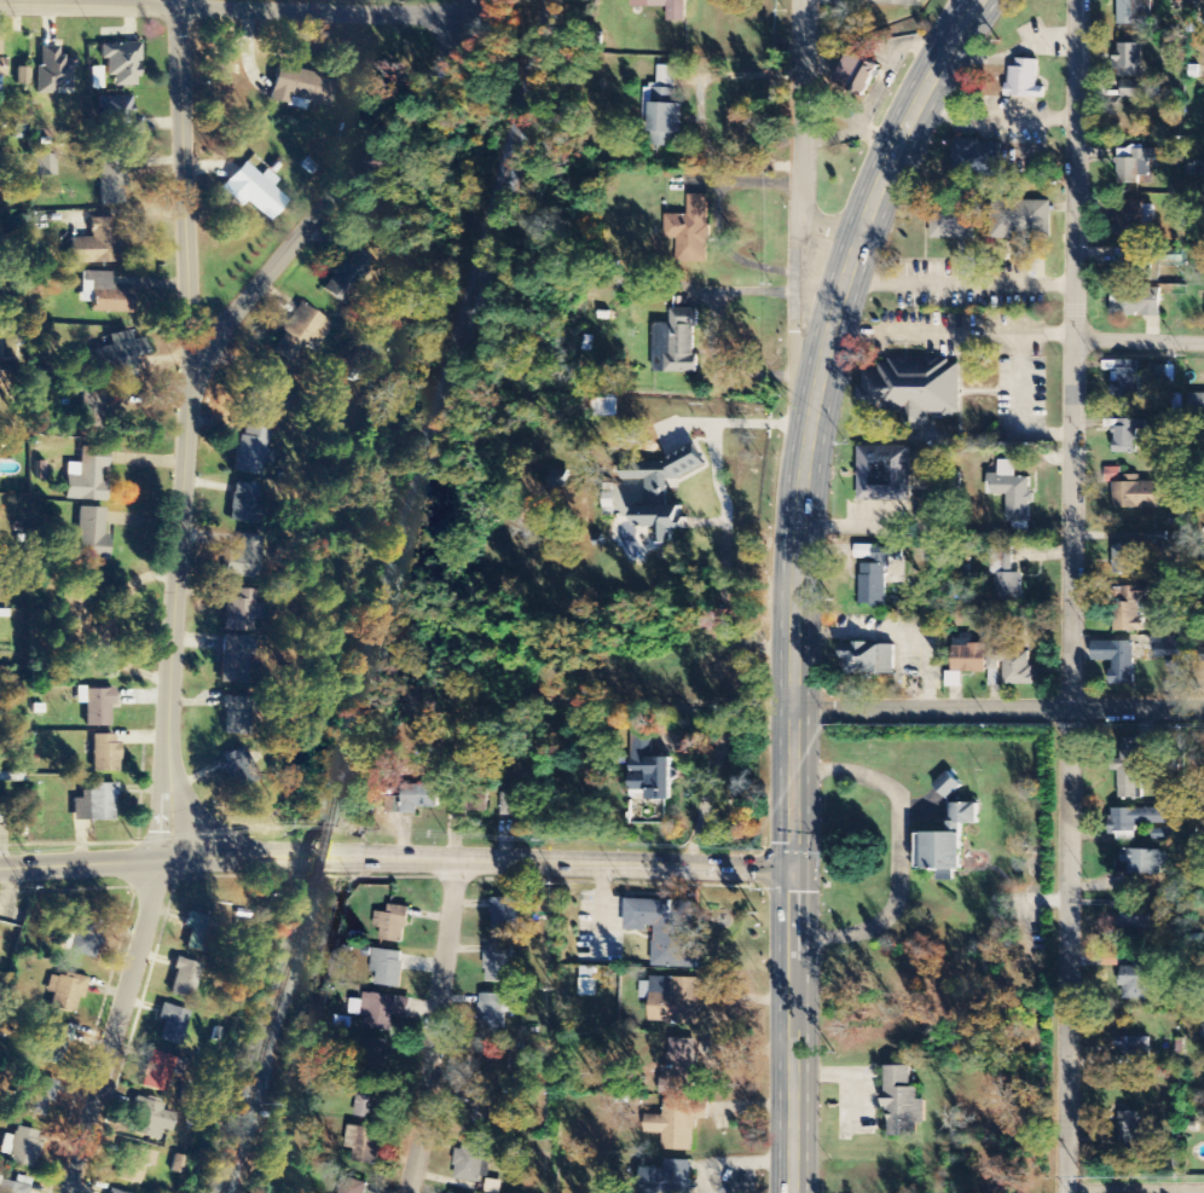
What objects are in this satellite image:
park: (366, 1)
road: (174, 2)
road: (243, 6)
building: (1134, 12)
building: (677, 16)
building: (1129, 62)
building: (121, 63)
building: (1, 68)
building: (52, 71)
building: (858, 75)
building: (1024, 80)
building: (297, 85)
building: (1140, 91)
building: (118, 116)
building: (664, 123)
building: (977, 157)
building: (1134, 164)
building: (42, 166)
building: (111, 179)
road: (185, 190)
building: (256, 192)
road: (801, 192)
building: (1129, 219)
building: (1020, 220)
building: (953, 221)
building: (695, 231)
building: (97, 243)
building: (349, 277)
building: (108, 295)
building: (1135, 302)
building: (300, 336)
road: (1139, 342)
building: (676, 343)
building: (117, 355)
building: (285, 364)
road: (190, 375)
building: (1163, 376)
building: (1130, 384)
building: (911, 390)
building: (261, 392)
building: (1197, 404)
railway: (438, 409)
building: (1128, 435)
building: (251, 451)
building: (884, 474)
building: (664, 475)
building: (88, 476)
building: (560, 479)
building: (1012, 494)
building: (1136, 496)
building: (241, 503)
building: (609, 505)
building: (661, 523)
building: (91, 535)
building: (243, 557)
building: (1124, 561)
building: (1006, 574)
road: (795, 578)
road: (1070, 596)
building: (1131, 609)
building: (241, 612)
building: (76, 616)
building: (1167, 647)
building: (233, 659)
building: (968, 659)
building: (868, 660)
building: (1117, 660)
building: (1012, 668)
building: (954, 681)
building: (95, 706)
road: (998, 712)
building: (235, 722)
building: (104, 753)
building: (238, 768)
building: (648, 769)
building: (1129, 769)
building: (948, 787)
building: (418, 798)
building: (513, 798)
building: (470, 803)
building: (94, 804)
building: (1136, 820)
building: (947, 844)
railway: (317, 853)
road: (396, 861)
building: (1142, 863)
traffic signals: (795, 867)
building: (551, 902)
building: (505, 917)
building: (1135, 919)
building: (393, 925)
building: (196, 930)
building: (667, 931)
building: (85, 937)
building: (499, 963)
building: (387, 968)
building: (183, 978)
building: (1136, 981)
building: (589, 983)
building: (64, 991)
building: (675, 1001)
building: (496, 1010)
building: (383, 1012)
building: (170, 1024)
road: (120, 1026)
road: (433, 1027)
railway: (265, 1038)
building: (52, 1044)
building: (1134, 1048)
building: (372, 1054)
building: (493, 1066)
building: (679, 1066)
building: (157, 1071)
building: (37, 1095)
building: (365, 1101)
building: (903, 1102)
building: (477, 1114)
building: (149, 1119)
building: (678, 1123)
building: (1128, 1130)
building: (364, 1143)
building: (22, 1147)
building: (471, 1163)
building: (137, 1164)
building: (667, 1177)
building: (353, 1186)
building: (11, 1187)
road: (1134, 1189)
railway: (222, 1191)
railway: (222, 1191)
building: (114, 1192)

